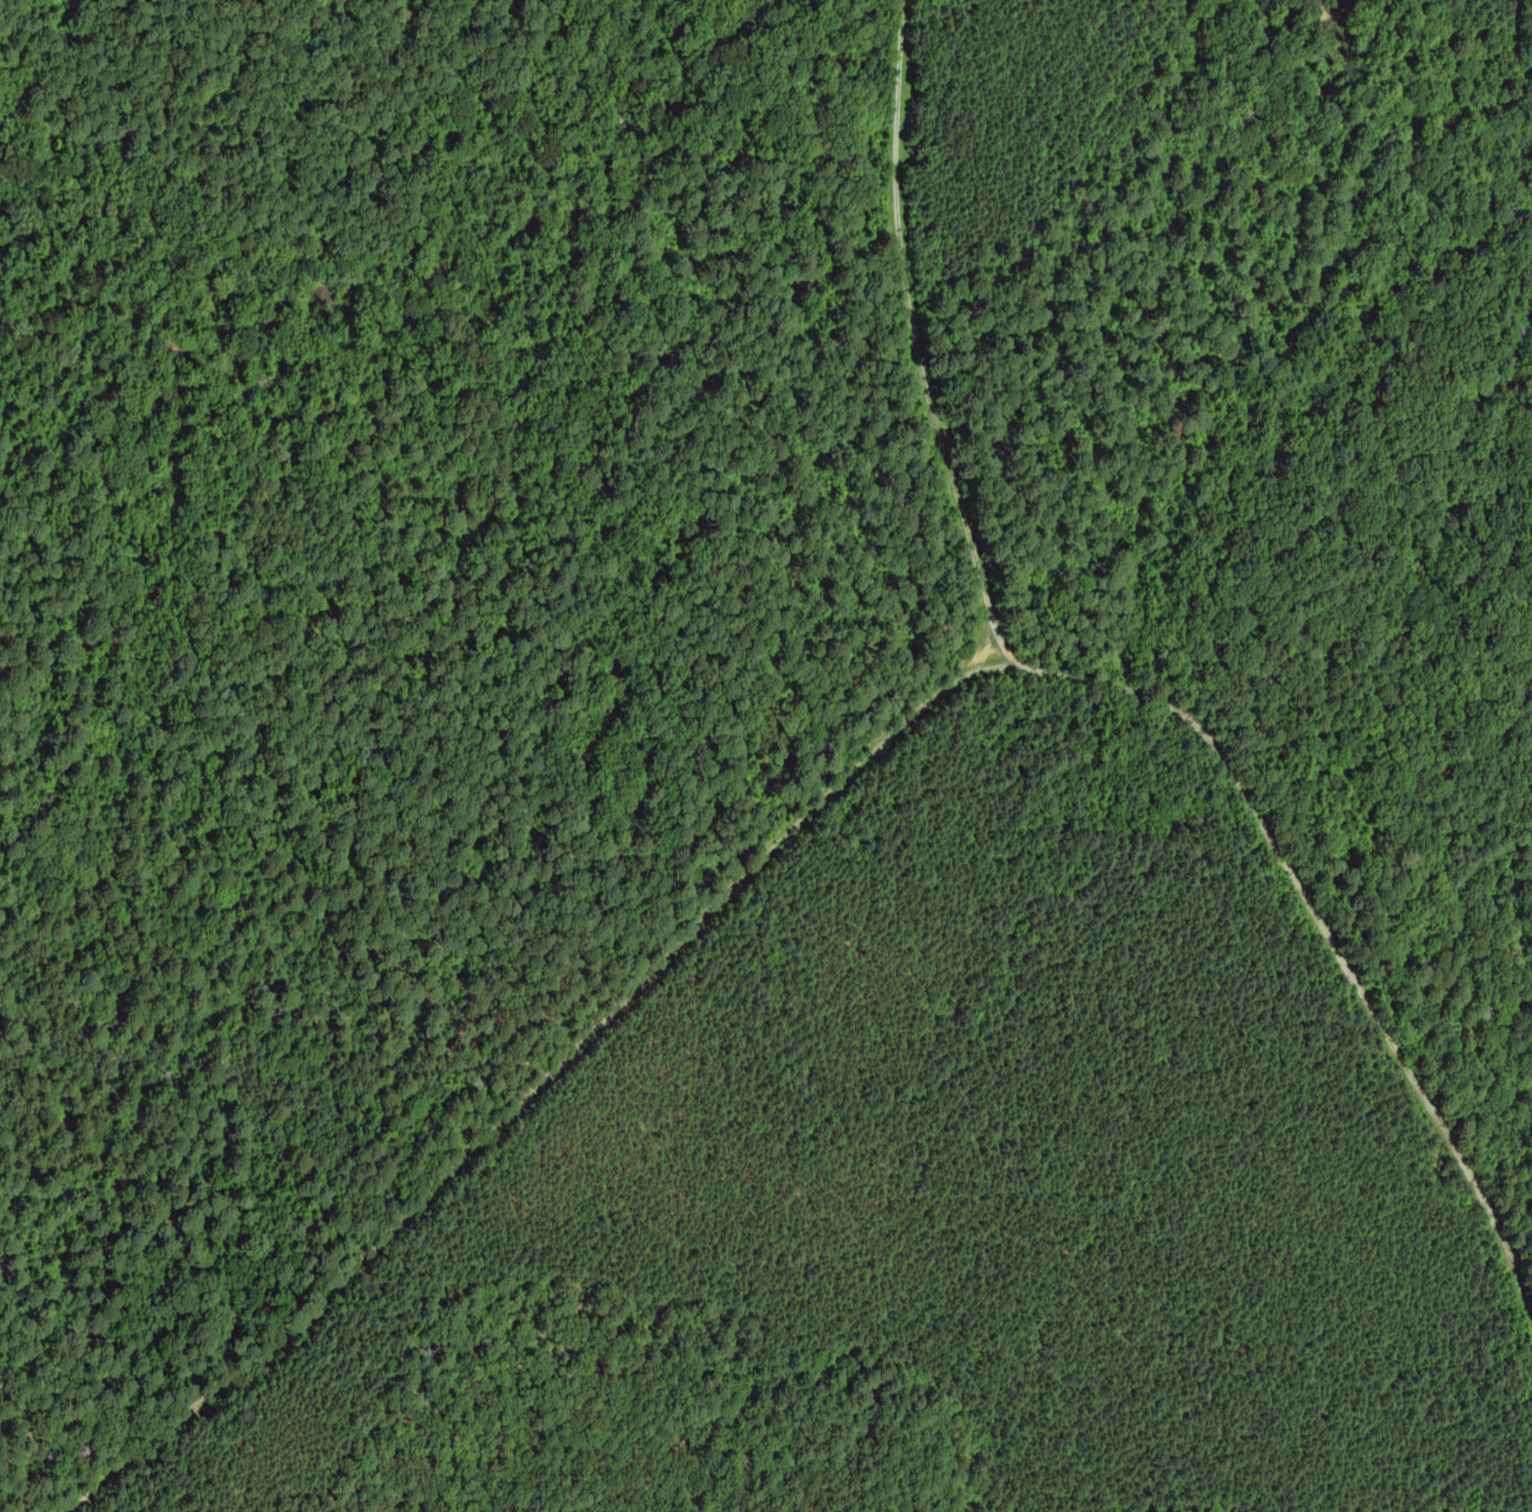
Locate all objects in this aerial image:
road: (917, 338)
road: (850, 768)

